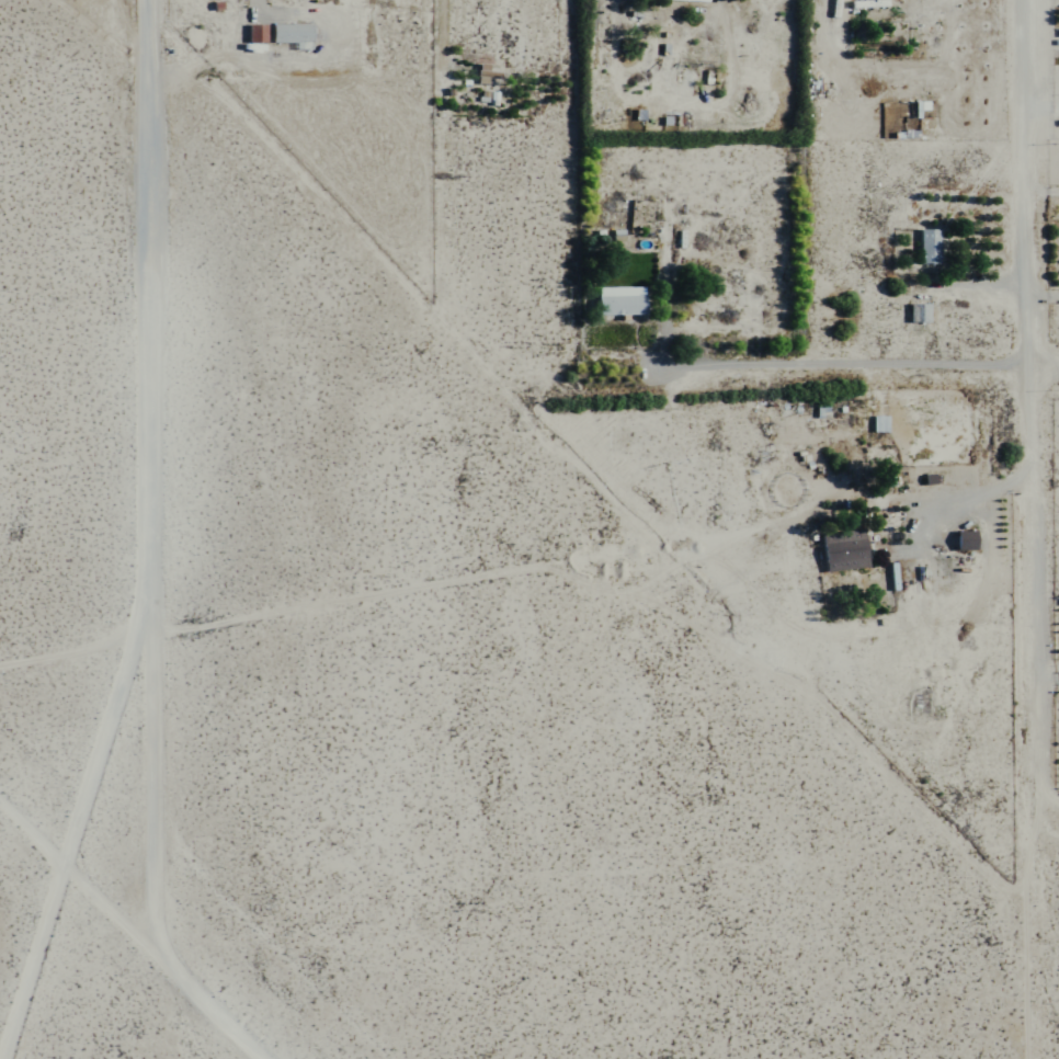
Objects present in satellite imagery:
building: (688, 0)
building: (252, 34)
building: (288, 35)
building: (481, 75)
road: (1037, 78)
road: (1021, 184)
building: (925, 247)
building: (616, 301)
building: (916, 314)
road: (1044, 368)
road: (1027, 408)
road: (147, 478)
road: (975, 493)
building: (961, 540)
building: (841, 551)
road: (76, 651)
road: (1044, 682)
road: (130, 930)

